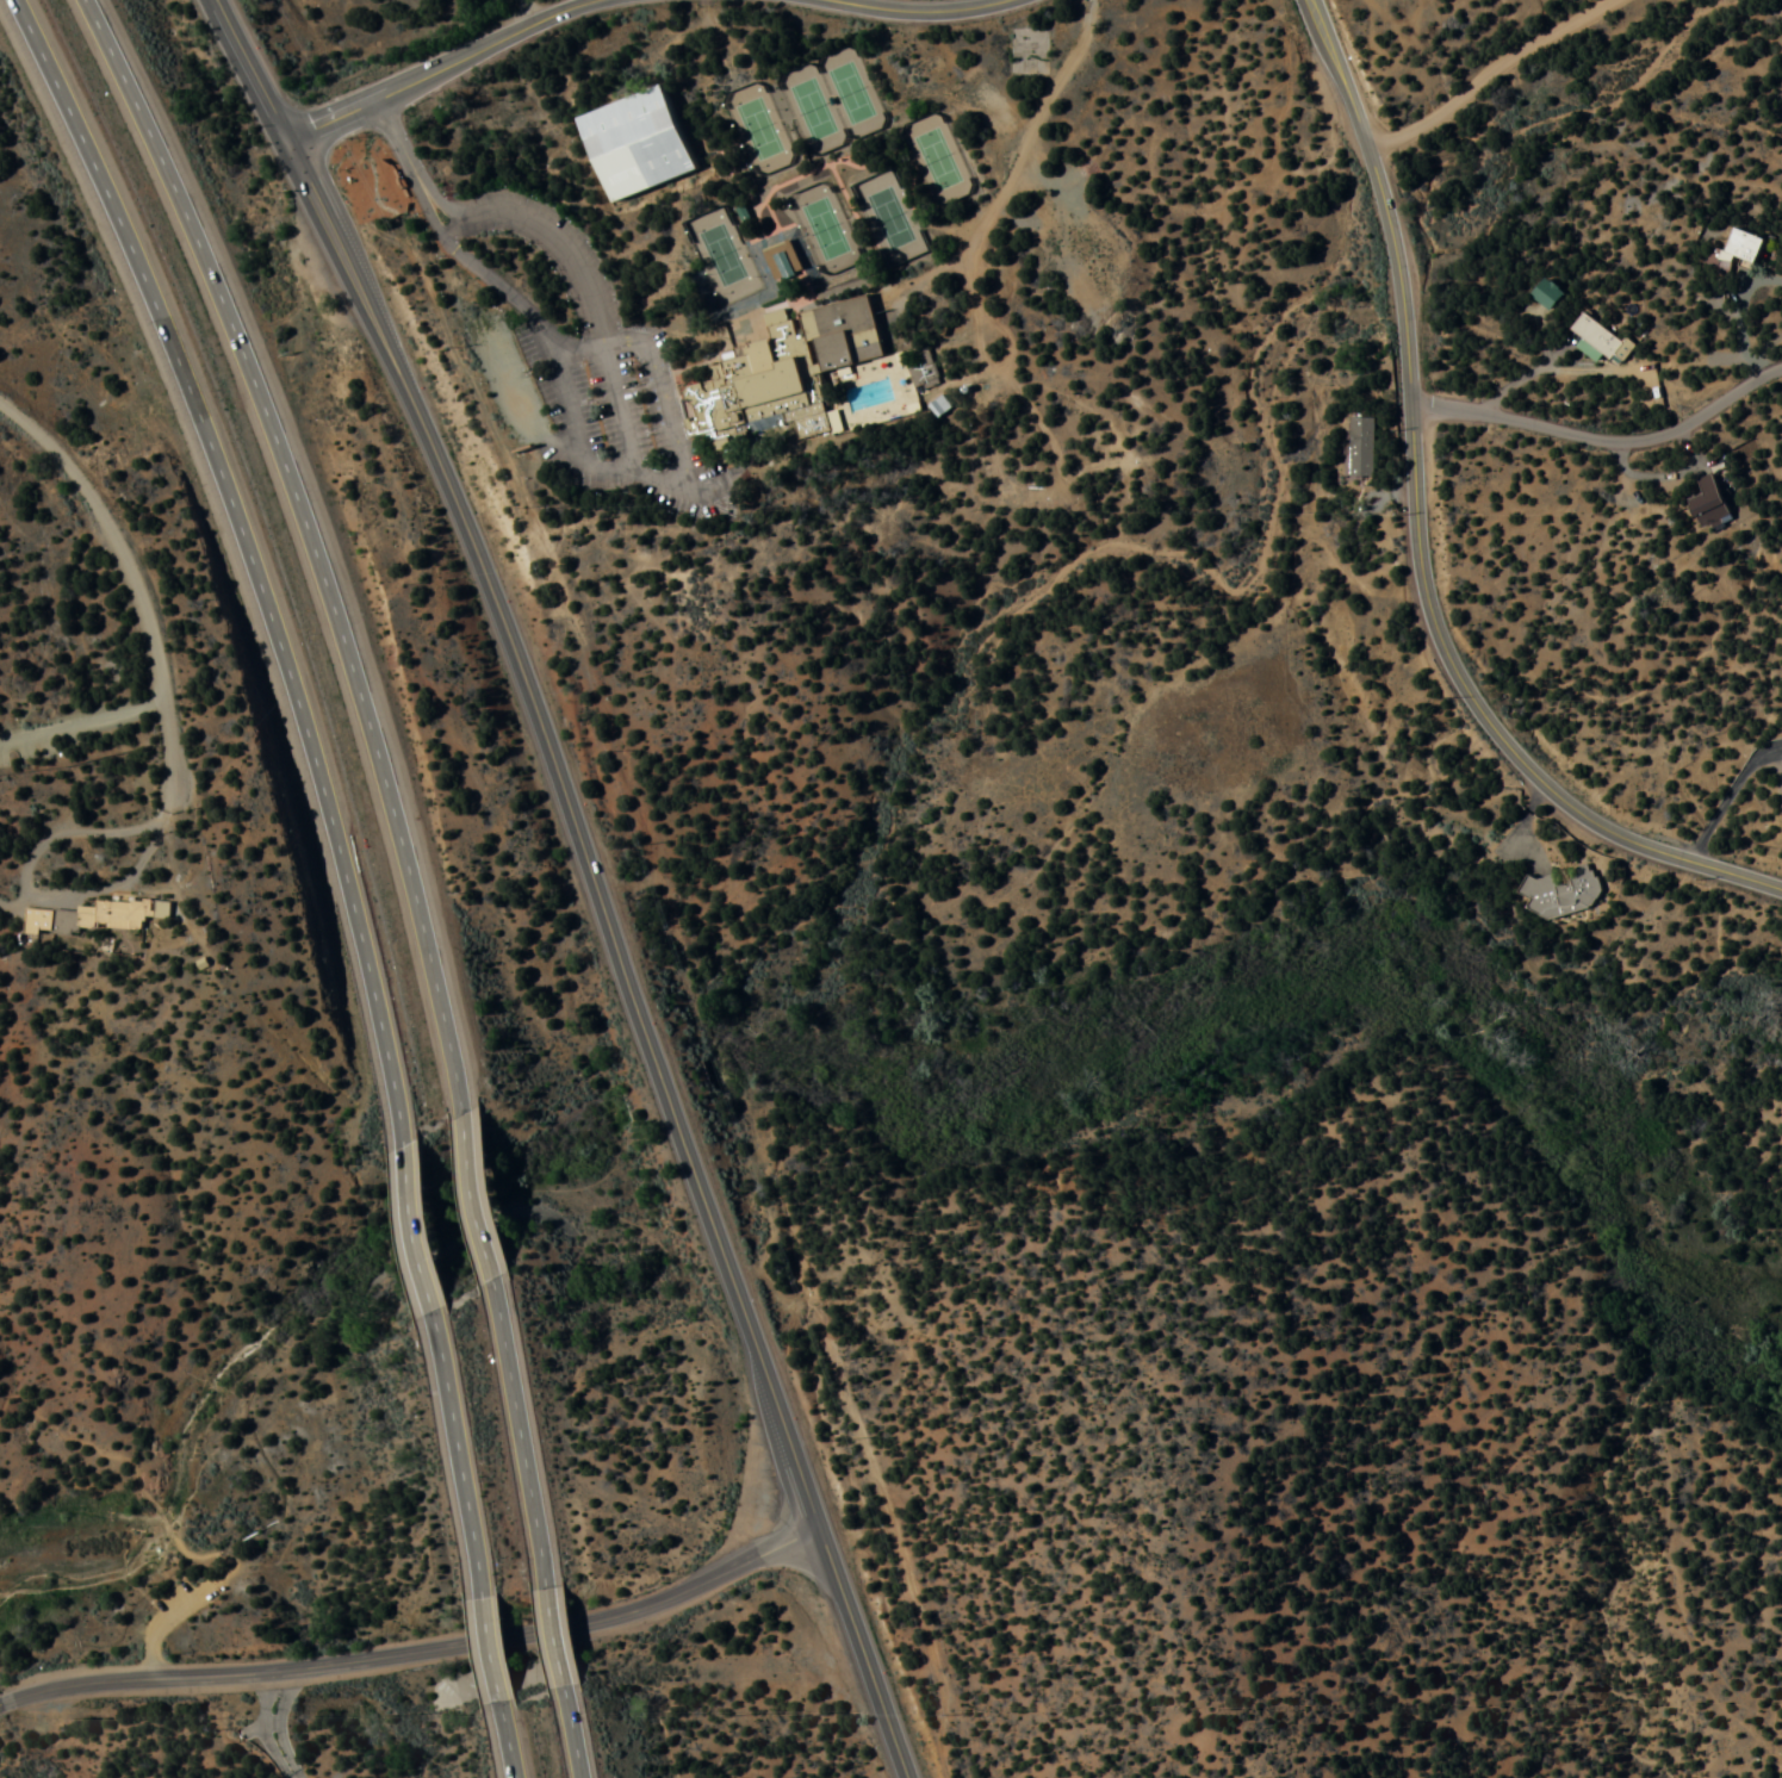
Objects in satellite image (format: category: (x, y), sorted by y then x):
road: (917, 12)
park: (1029, 50)
road: (440, 69)
road: (1489, 75)
park: (862, 88)
park: (822, 105)
park: (770, 125)
traffic signals: (286, 141)
building: (645, 142)
park: (949, 156)
park: (901, 215)
park: (837, 225)
building: (1745, 237)
park: (734, 251)
building: (1551, 288)
building: (1606, 335)
building: (796, 369)
road: (673, 391)
road: (522, 408)
road: (1603, 440)
road: (642, 456)
road: (1421, 533)
road: (310, 543)
road: (249, 558)
road: (131, 583)
road: (107, 716)
parking lot: (72, 728)
building: (70, 753)
road: (1727, 792)
road: (592, 876)
road: (38, 887)
building: (1565, 890)
building: (99, 910)
park: (98, 1181)
road: (476, 1196)
road: (418, 1226)
road: (517, 1434)
road: (455, 1453)
road: (252, 1561)
parking lot: (199, 1605)
road: (190, 1609)
road: (553, 1636)
road: (417, 1650)
road: (489, 1652)
road: (293, 1721)
road: (286, 1726)
road: (278, 1728)
road: (268, 1729)
road: (571, 1733)
road: (507, 1742)

